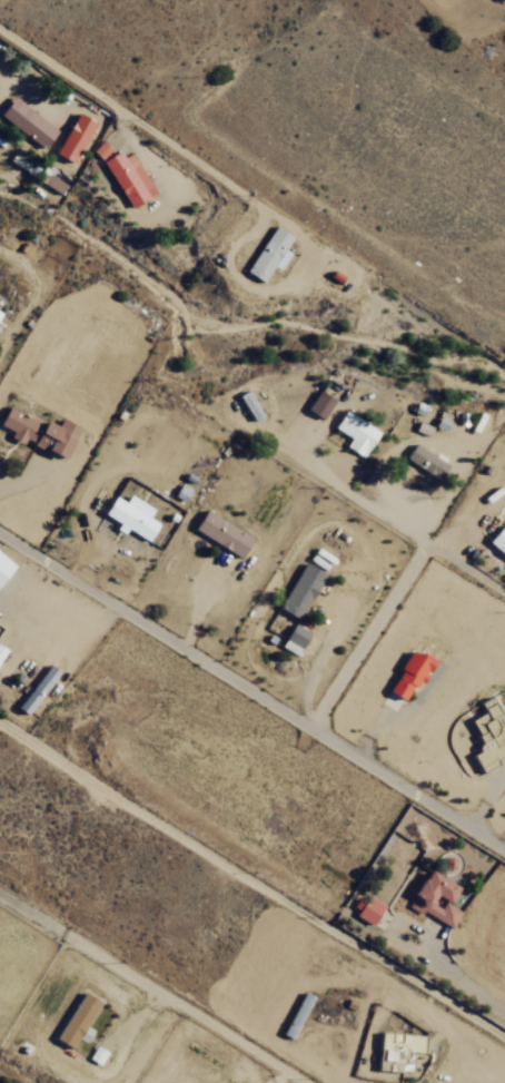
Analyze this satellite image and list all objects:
building: (28, 121)
building: (75, 138)
building: (101, 149)
building: (128, 177)
building: (52, 183)
building: (269, 254)
building: (319, 404)
building: (250, 405)
building: (40, 432)
building: (356, 433)
building: (426, 461)
road: (469, 470)
building: (131, 516)
building: (221, 533)
building: (498, 540)
building: (4, 568)
building: (300, 591)
building: (295, 639)
building: (1, 650)
building: (408, 675)
building: (37, 689)
road: (255, 695)
building: (487, 737)
building: (435, 898)
building: (367, 909)
road: (465, 983)
road: (156, 986)
building: (297, 1015)
building: (76, 1020)
building: (398, 1050)

